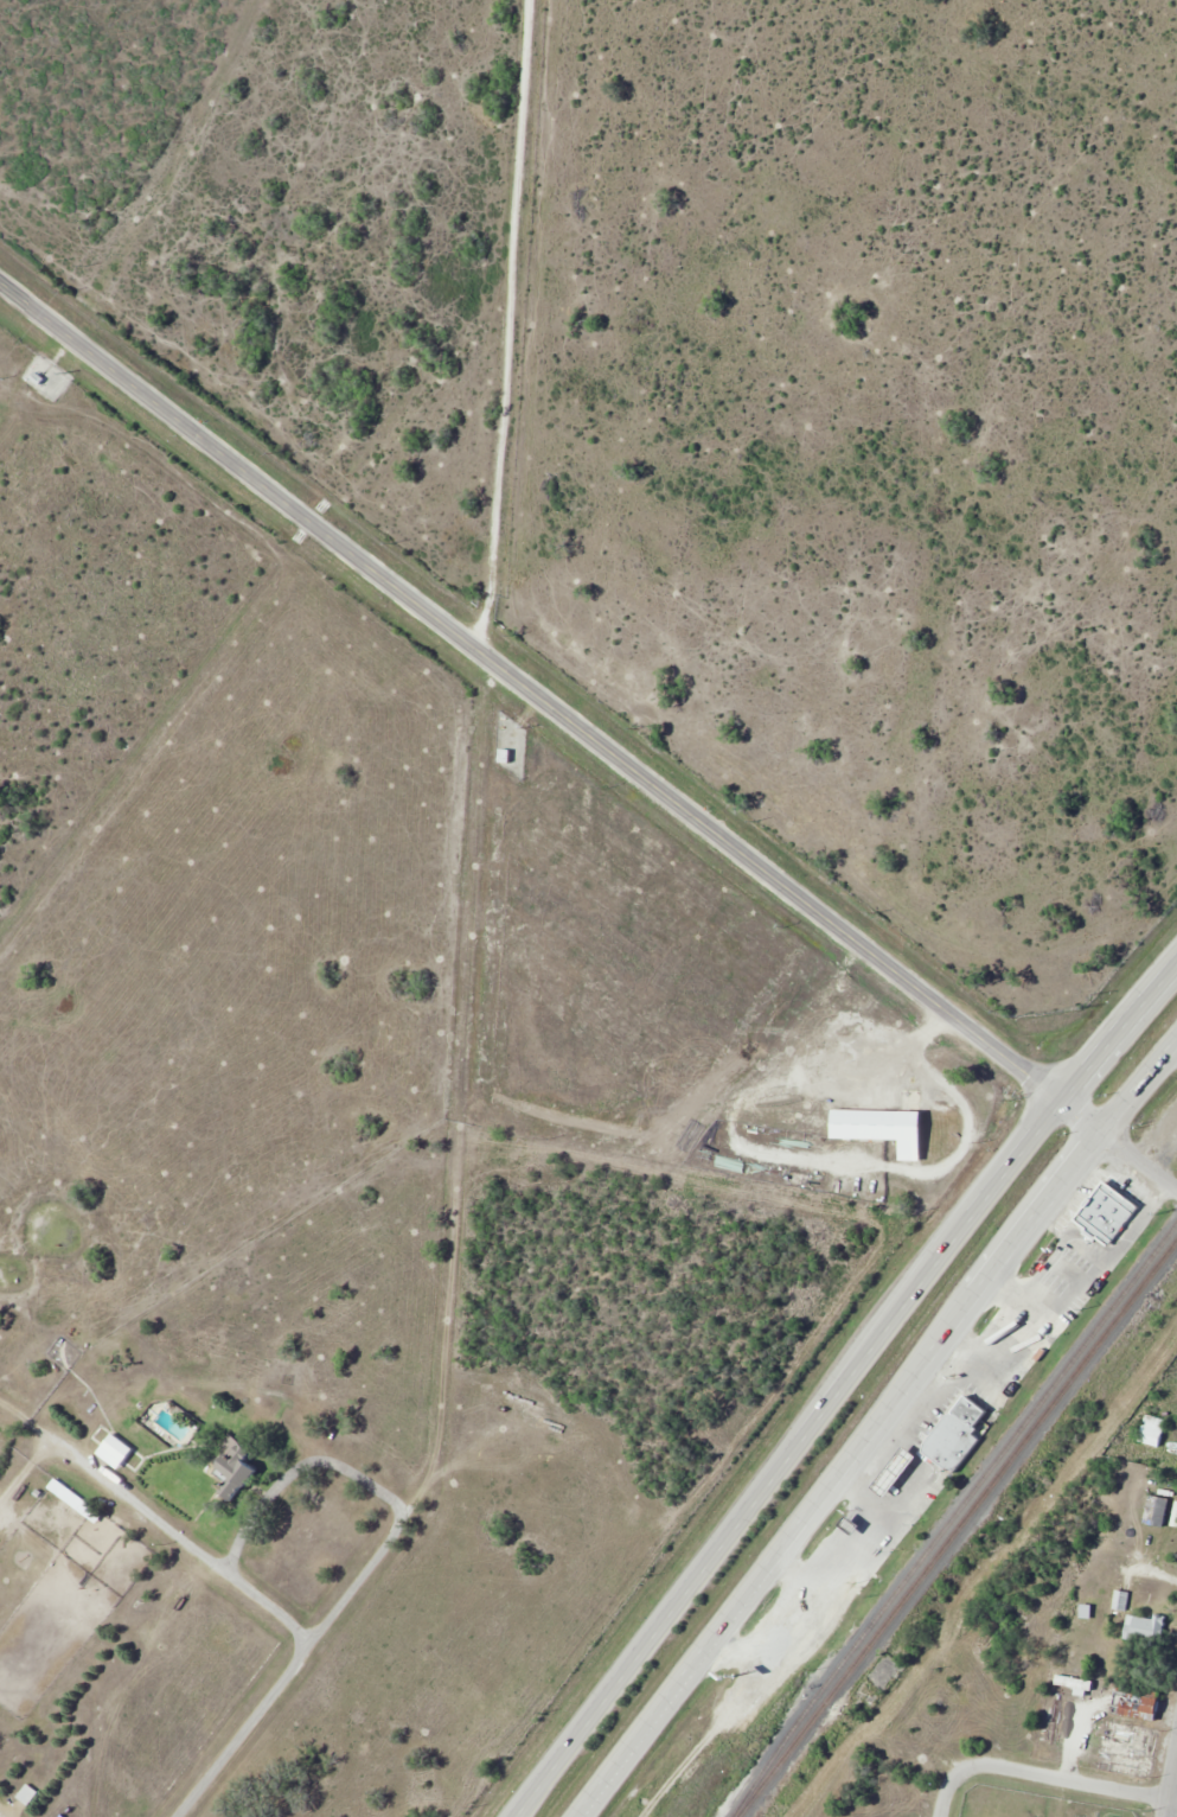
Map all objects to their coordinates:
road: (205, 670)
road: (550, 703)
building: (504, 754)
road: (475, 757)
road: (1121, 1031)
road: (1140, 1085)
building: (859, 1123)
road: (1140, 1154)
building: (1107, 1212)
road: (1079, 1261)
road: (25, 1422)
building: (1153, 1429)
building: (953, 1441)
building: (117, 1447)
building: (107, 1451)
road: (788, 1454)
road: (847, 1468)
building: (237, 1471)
road: (25, 1472)
building: (887, 1473)
road: (367, 1484)
building: (66, 1493)
building: (1157, 1511)
railway: (952, 1518)
railway: (958, 1528)
road: (180, 1539)
road: (1150, 1569)
building: (1120, 1601)
building: (1145, 1628)
building: (1137, 1706)
road: (244, 1728)
building: (1128, 1748)
road: (1060, 1774)
road: (1169, 1779)
building: (28, 1794)
road: (947, 1803)

